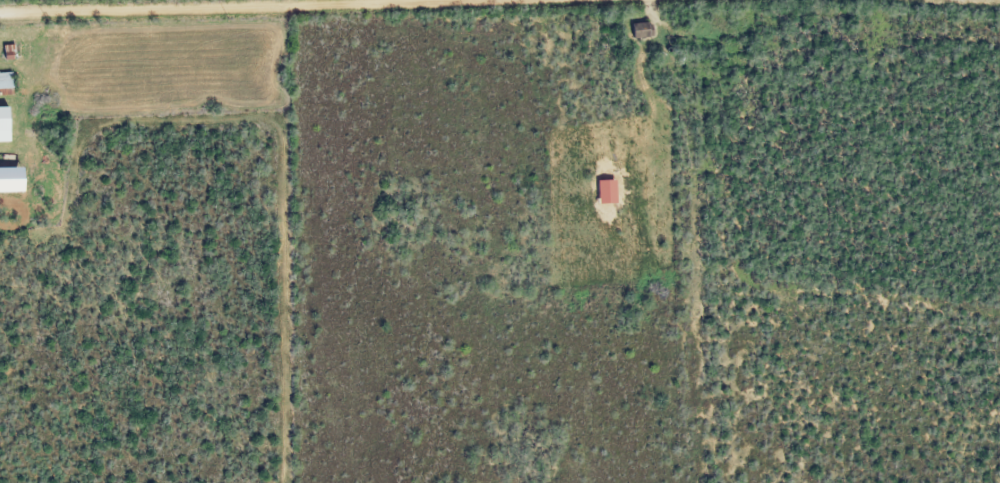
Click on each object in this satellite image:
road: (183, 5)
building: (643, 29)
building: (7, 82)

